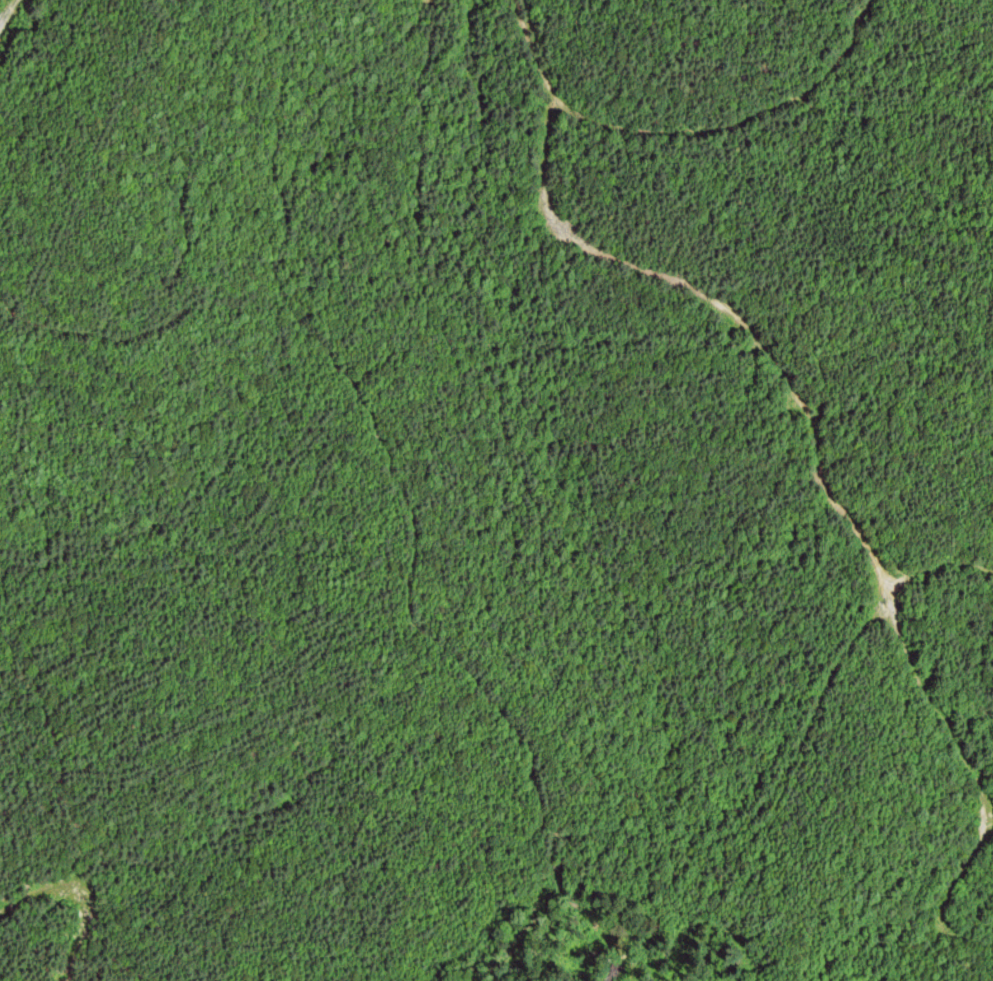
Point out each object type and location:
road: (10, 16)

